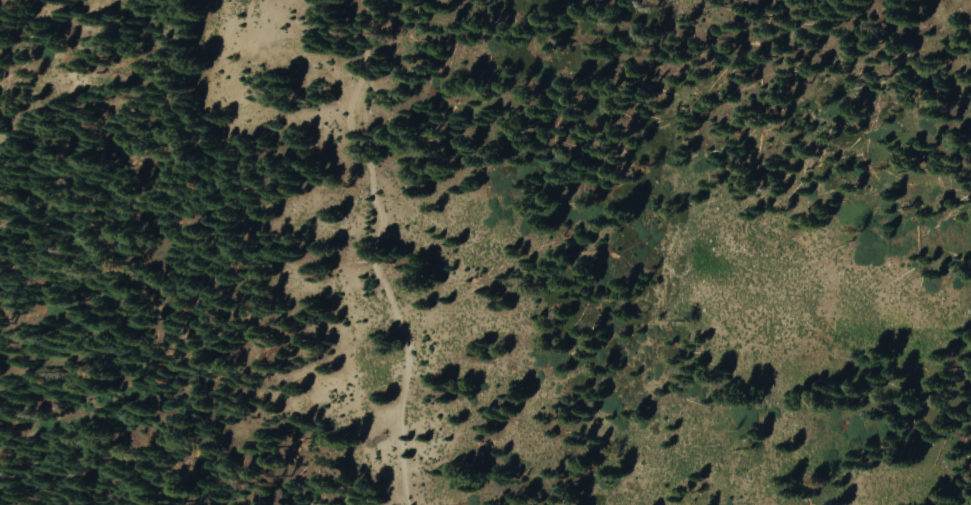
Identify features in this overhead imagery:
road: (373, 251)

